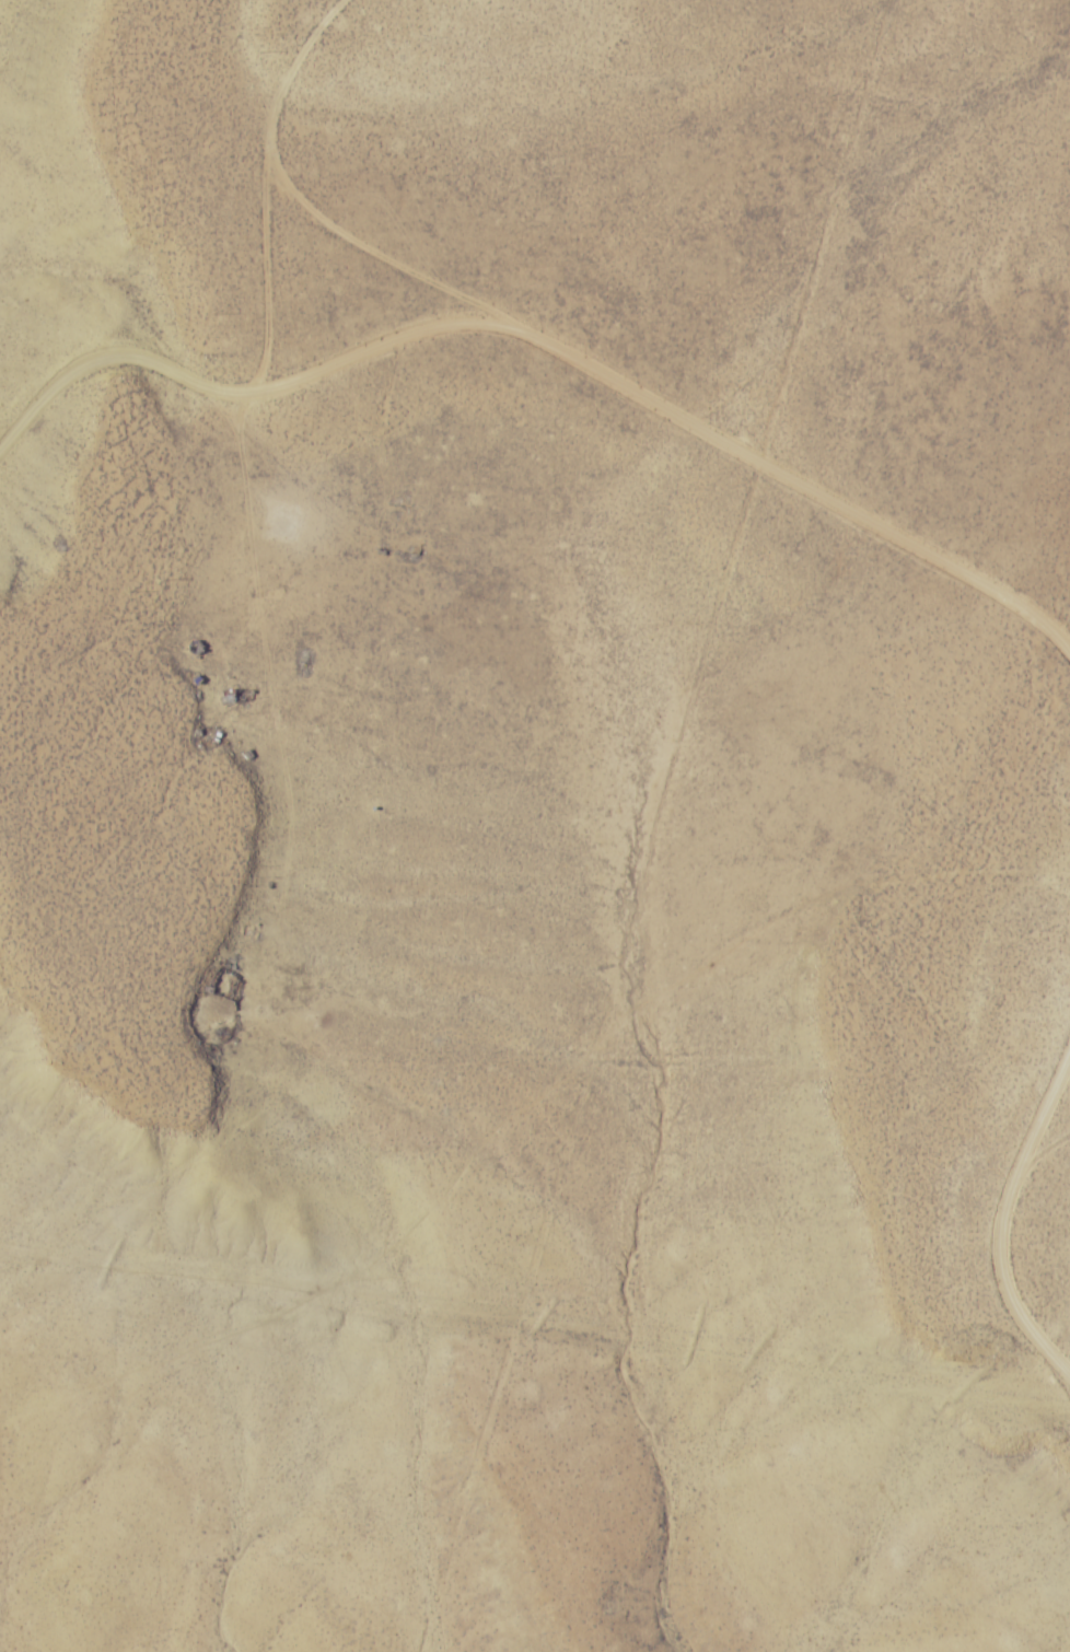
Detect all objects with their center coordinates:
road: (298, 60)
road: (380, 253)
road: (269, 267)
road: (387, 363)
road: (113, 407)
road: (803, 484)
road: (1002, 1219)

